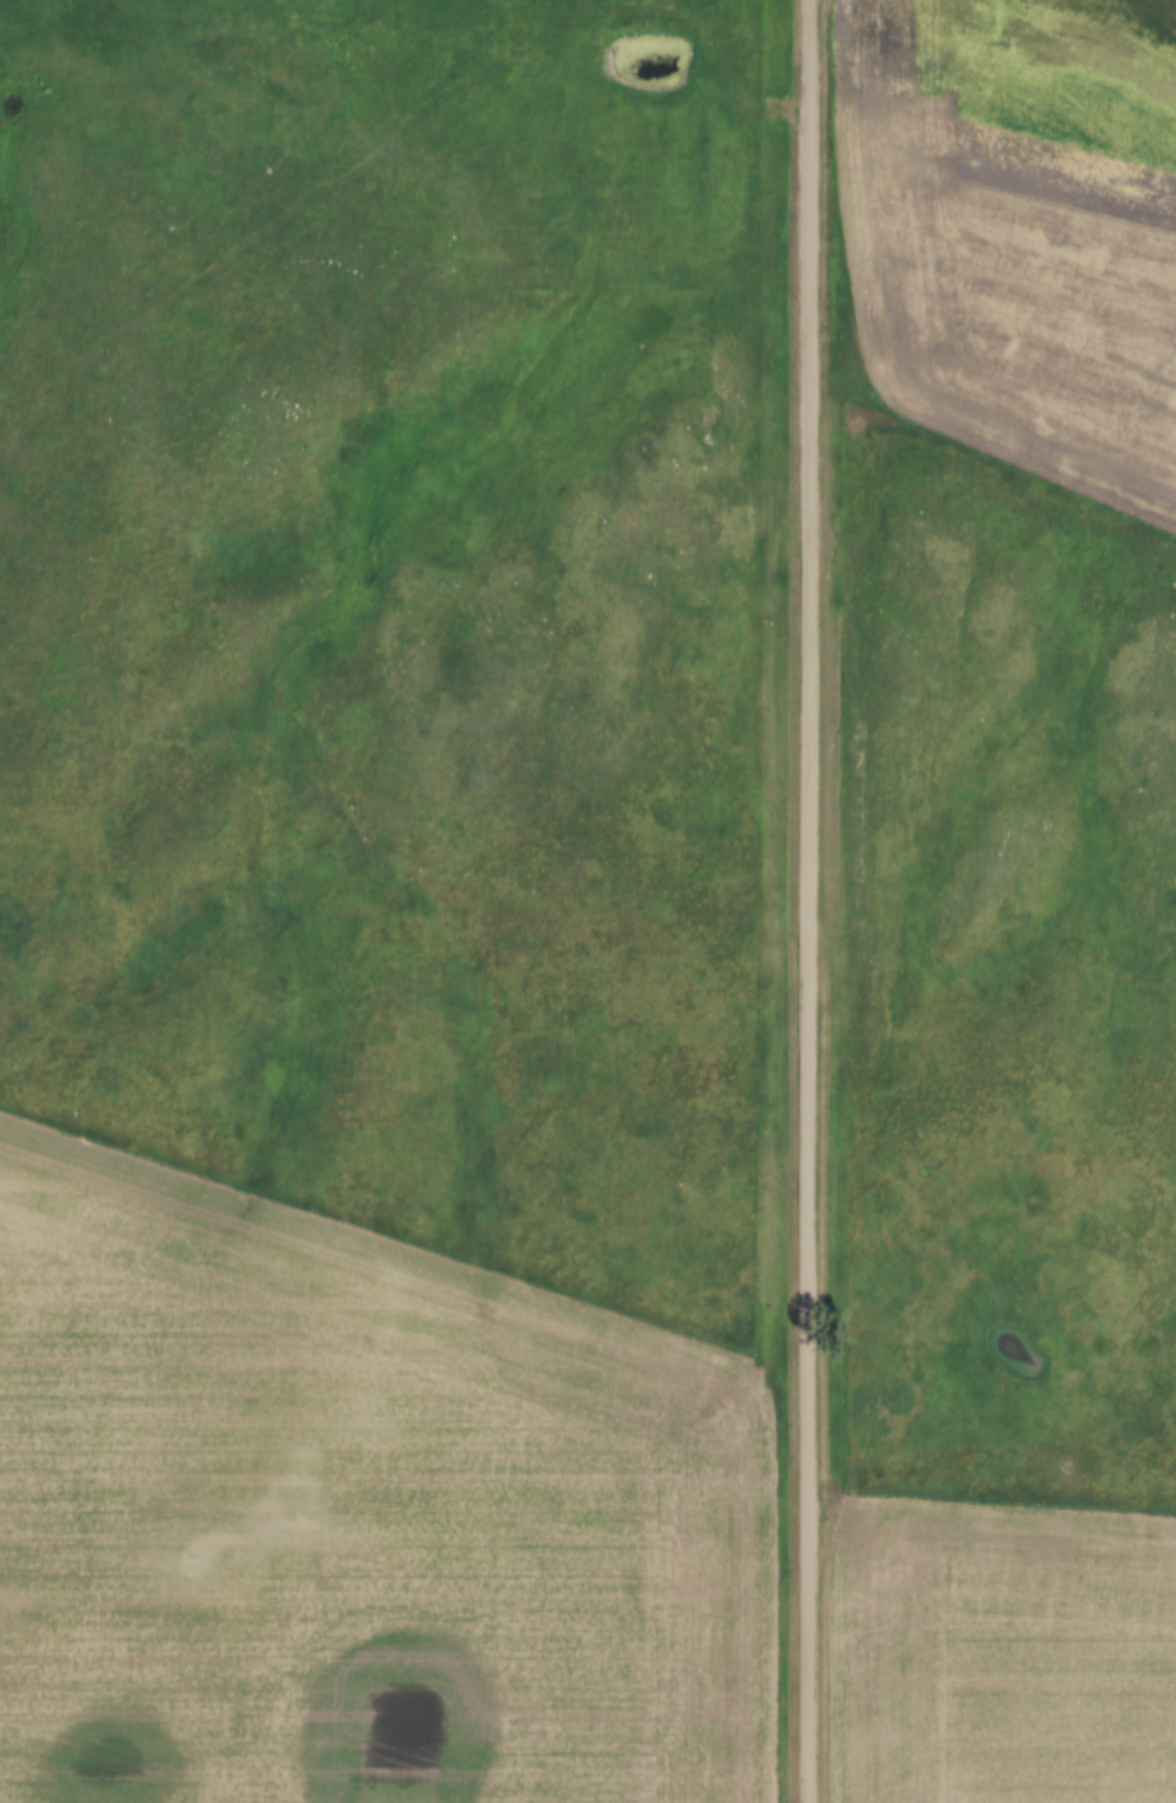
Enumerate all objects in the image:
road: (815, 902)

